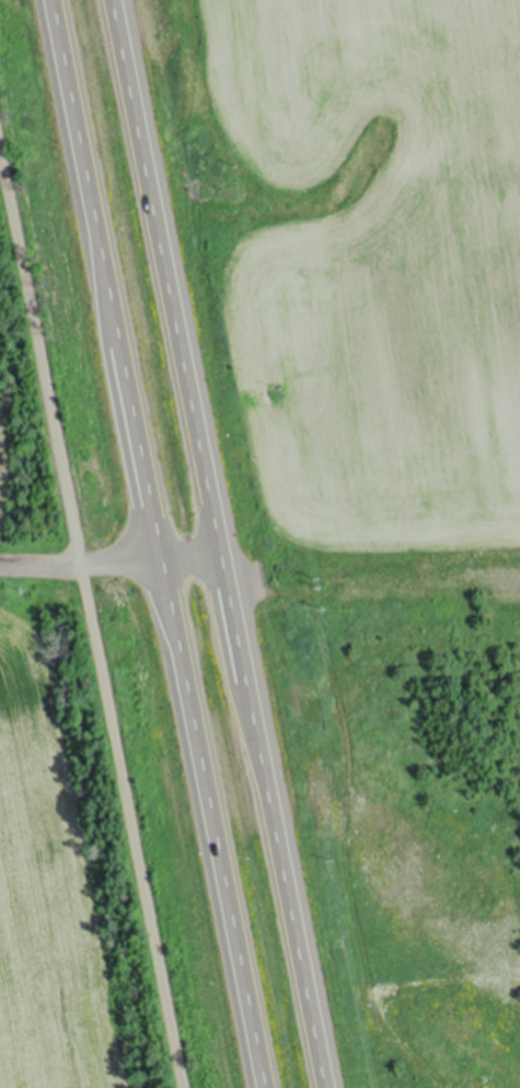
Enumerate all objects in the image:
road: (160, 543)
road: (219, 543)
road: (112, 561)
road: (91, 621)

